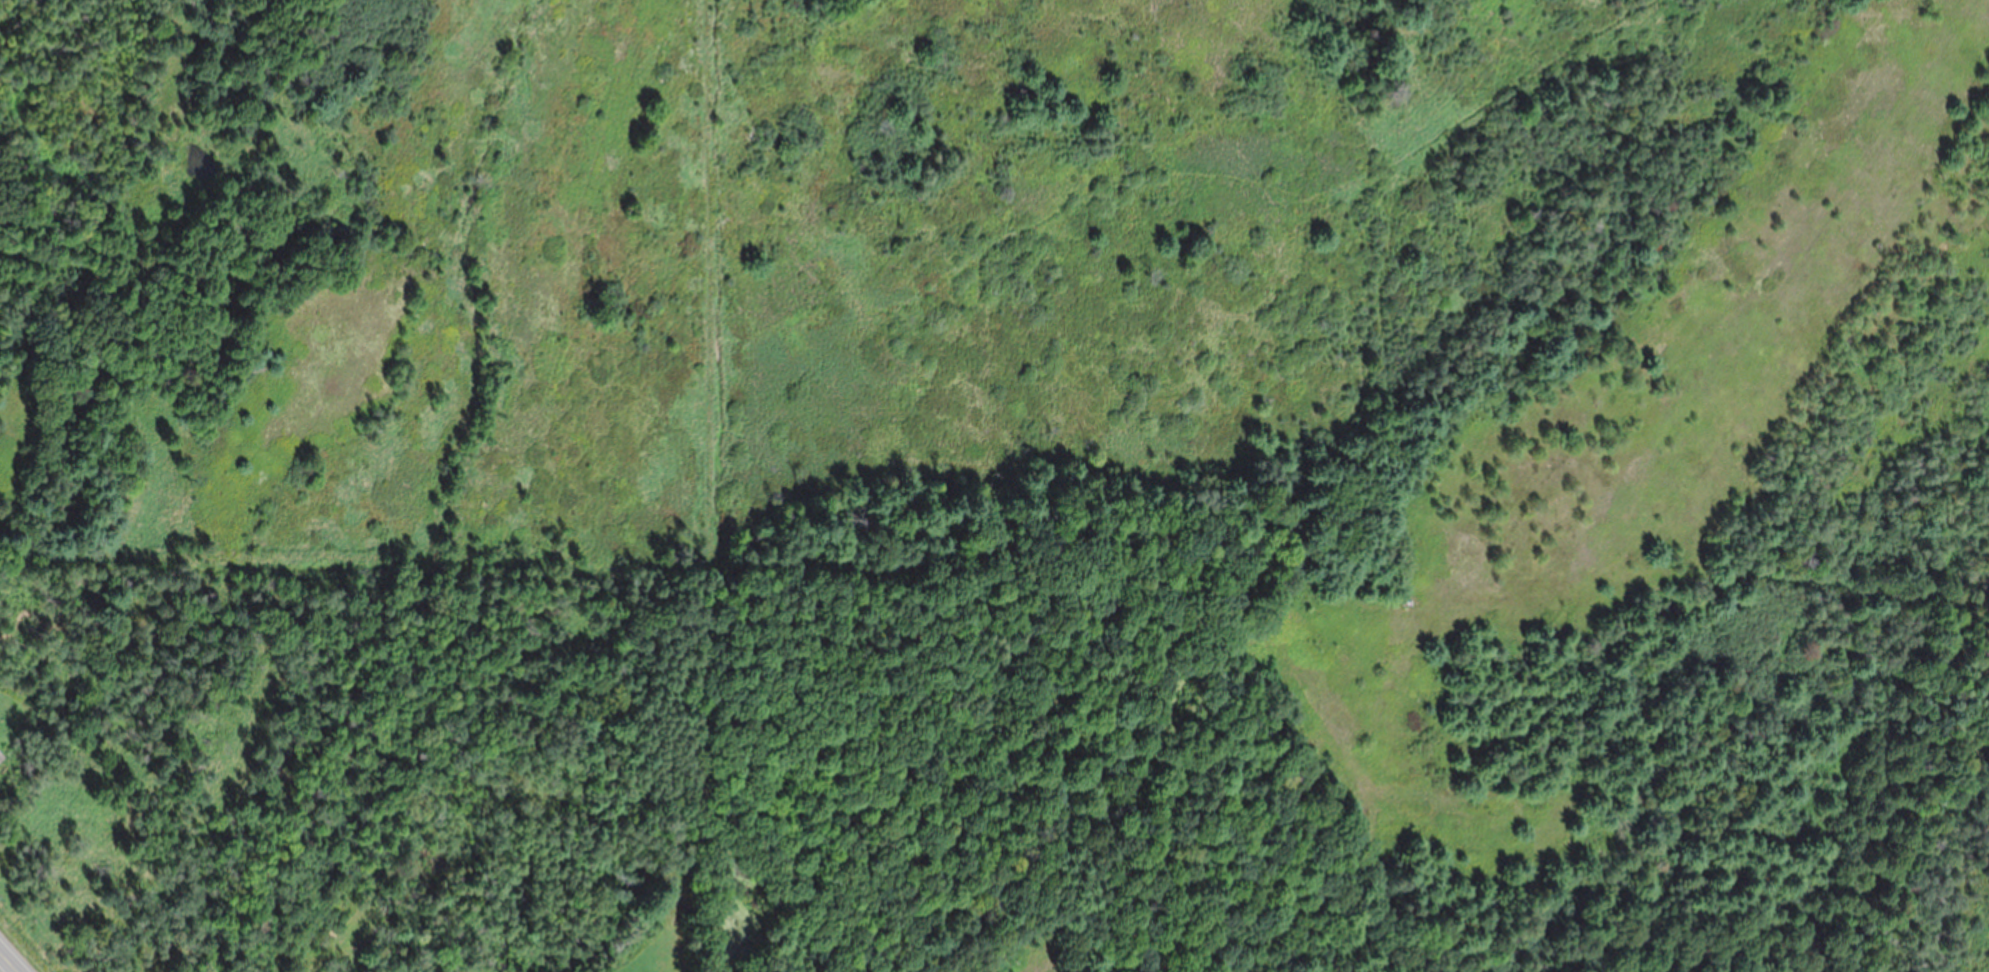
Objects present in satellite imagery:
building: (1, 754)
road: (11, 959)

